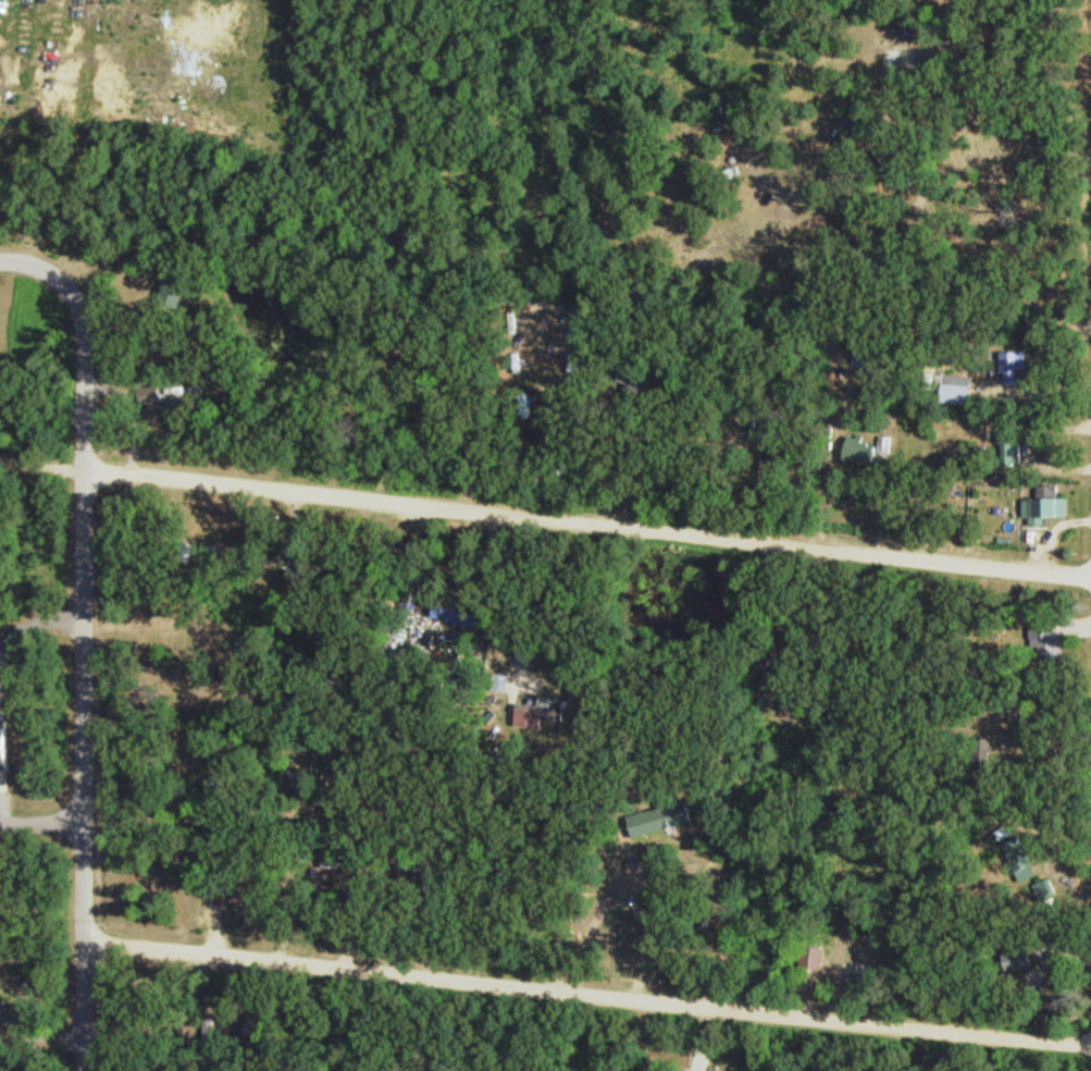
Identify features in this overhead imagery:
building: (905, 59)
building: (896, 169)
road: (32, 263)
building: (178, 284)
building: (865, 357)
building: (1015, 366)
building: (960, 387)
building: (772, 424)
building: (868, 450)
building: (770, 461)
road: (587, 525)
road: (85, 668)
building: (302, 779)
building: (664, 817)
building: (335, 851)
building: (1022, 858)
building: (218, 882)
building: (813, 955)
building: (865, 976)
road: (587, 992)
building: (652, 1067)

